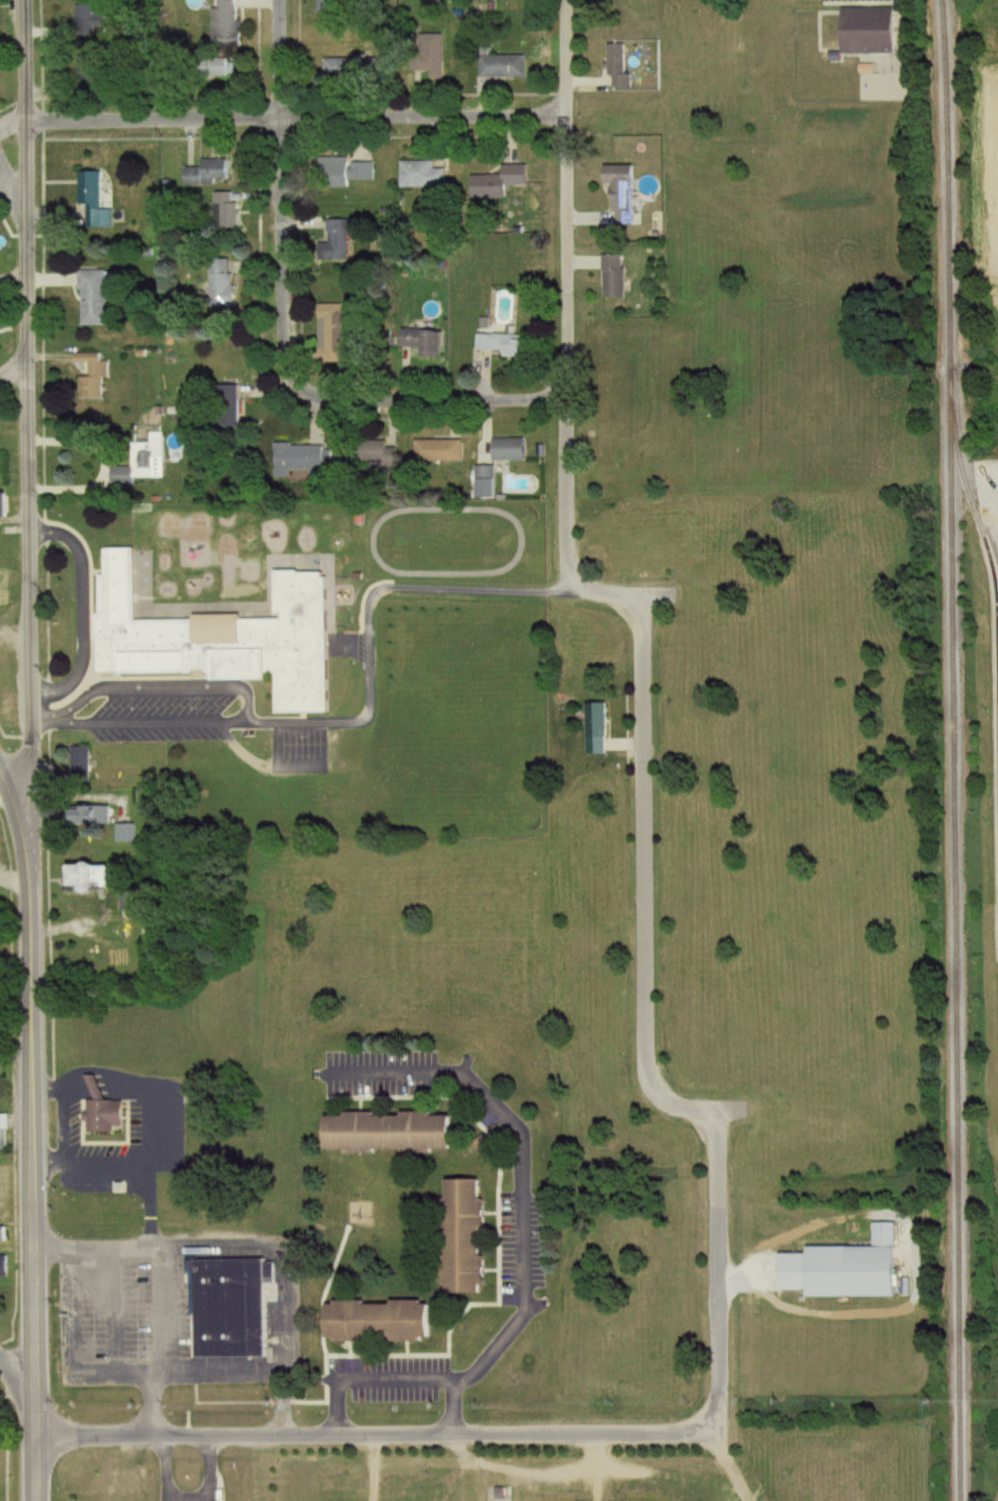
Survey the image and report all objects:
building: (331, 5)
building: (229, 20)
building: (860, 30)
building: (0, 33)
building: (435, 57)
road: (278, 60)
building: (505, 66)
building: (621, 66)
building: (355, 68)
road: (282, 120)
building: (348, 170)
building: (210, 172)
building: (426, 174)
building: (502, 182)
building: (626, 193)
road: (565, 199)
road: (15, 200)
building: (96, 200)
building: (227, 210)
building: (342, 239)
building: (617, 277)
building: (228, 286)
building: (97, 298)
building: (335, 334)
building: (430, 343)
building: (512, 345)
road: (14, 366)
building: (98, 372)
road: (291, 383)
building: (234, 419)
building: (1, 428)
road: (28, 428)
building: (511, 450)
building: (442, 451)
road: (101, 456)
building: (388, 457)
building: (304, 458)
building: (138, 468)
building: (488, 477)
building: (4, 510)
road: (563, 534)
railway: (984, 537)
building: (5, 588)
road: (85, 611)
road: (368, 611)
building: (226, 638)
building: (996, 661)
building: (6, 664)
road: (159, 686)
road: (140, 725)
building: (598, 729)
railway: (952, 750)
building: (84, 761)
building: (93, 817)
building: (128, 834)
building: (100, 879)
road: (639, 891)
road: (15, 1053)
road: (30, 1082)
road: (46, 1089)
building: (105, 1109)
road: (63, 1127)
building: (390, 1132)
building: (4, 1141)
road: (127, 1169)
building: (6, 1233)
building: (469, 1235)
road: (523, 1251)
building: (5, 1265)
road: (714, 1269)
building: (837, 1270)
road: (157, 1281)
road: (285, 1284)
building: (232, 1307)
building: (379, 1320)
road: (14, 1379)
road: (453, 1405)
road: (373, 1434)
road: (33, 1448)
park: (603, 1470)
road: (184, 1494)
park: (637, 1499)
park: (557, 1500)

